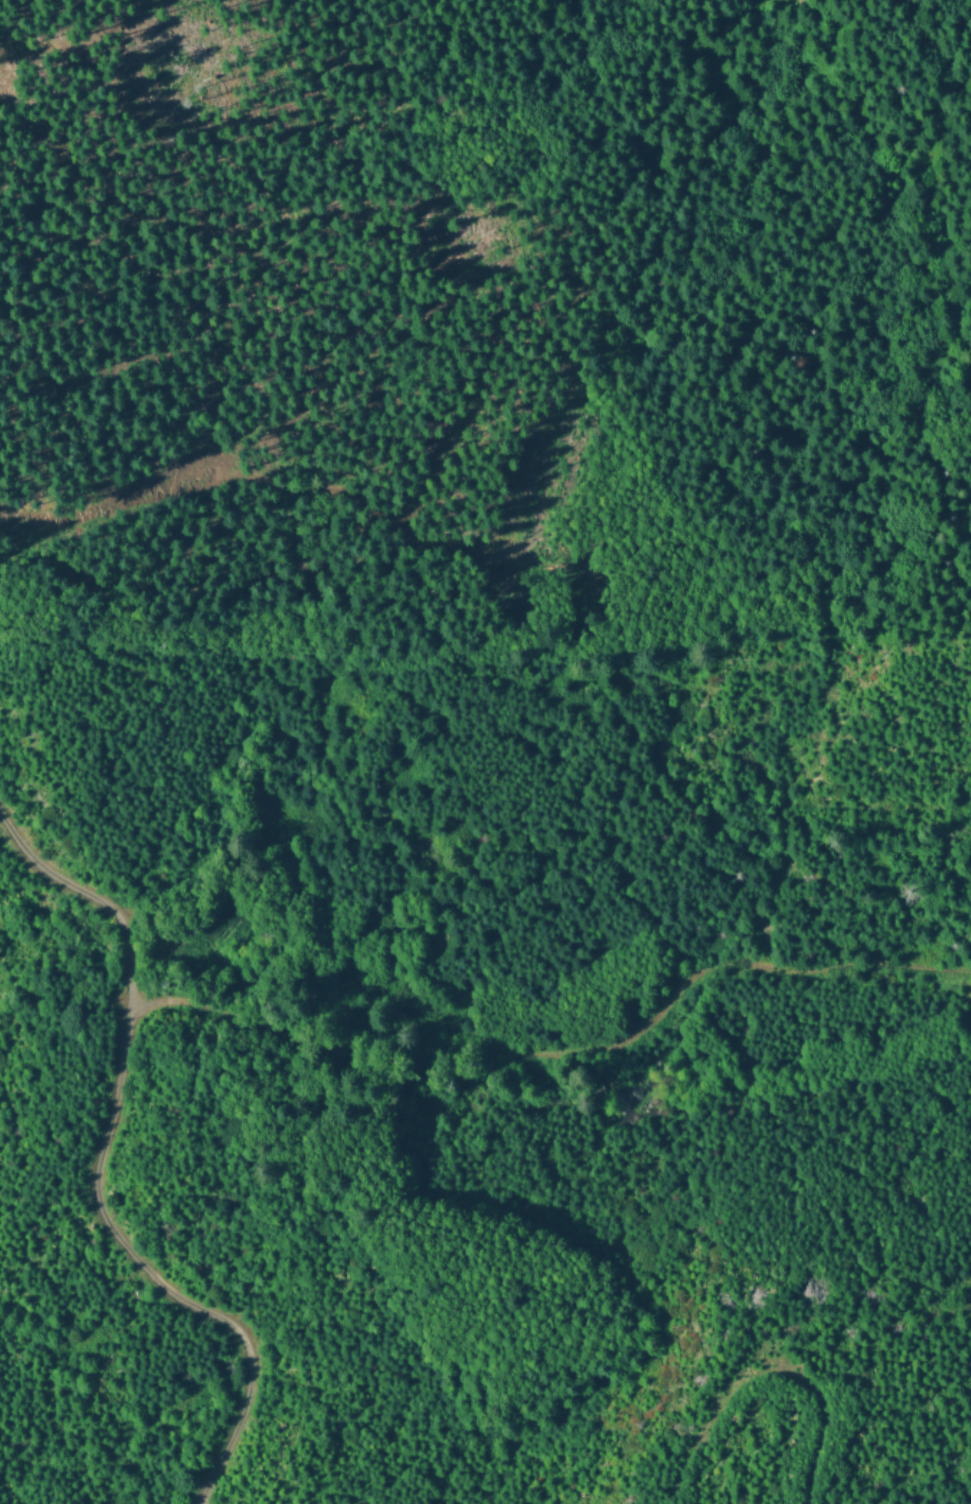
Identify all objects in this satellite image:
road: (549, 1031)
road: (96, 1148)

